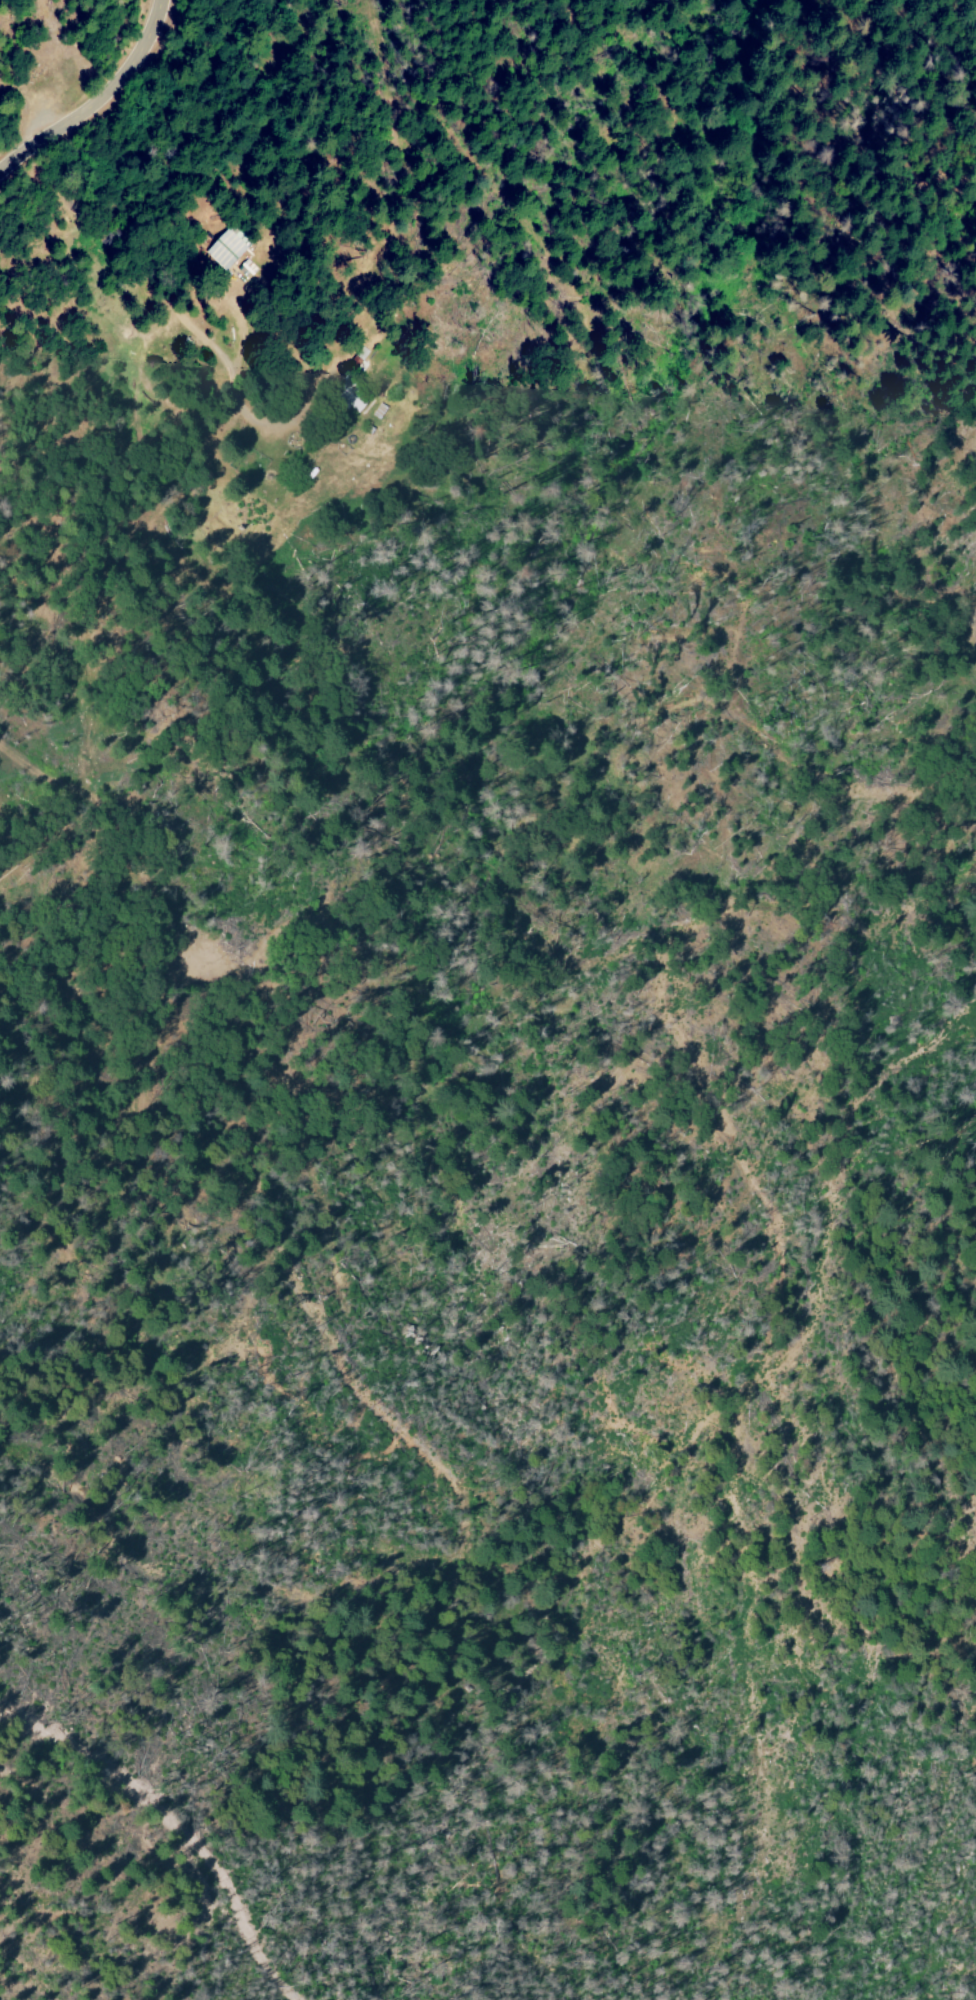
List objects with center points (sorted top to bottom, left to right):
road: (99, 98)
road: (162, 239)
building: (344, 395)
road: (169, 1833)

